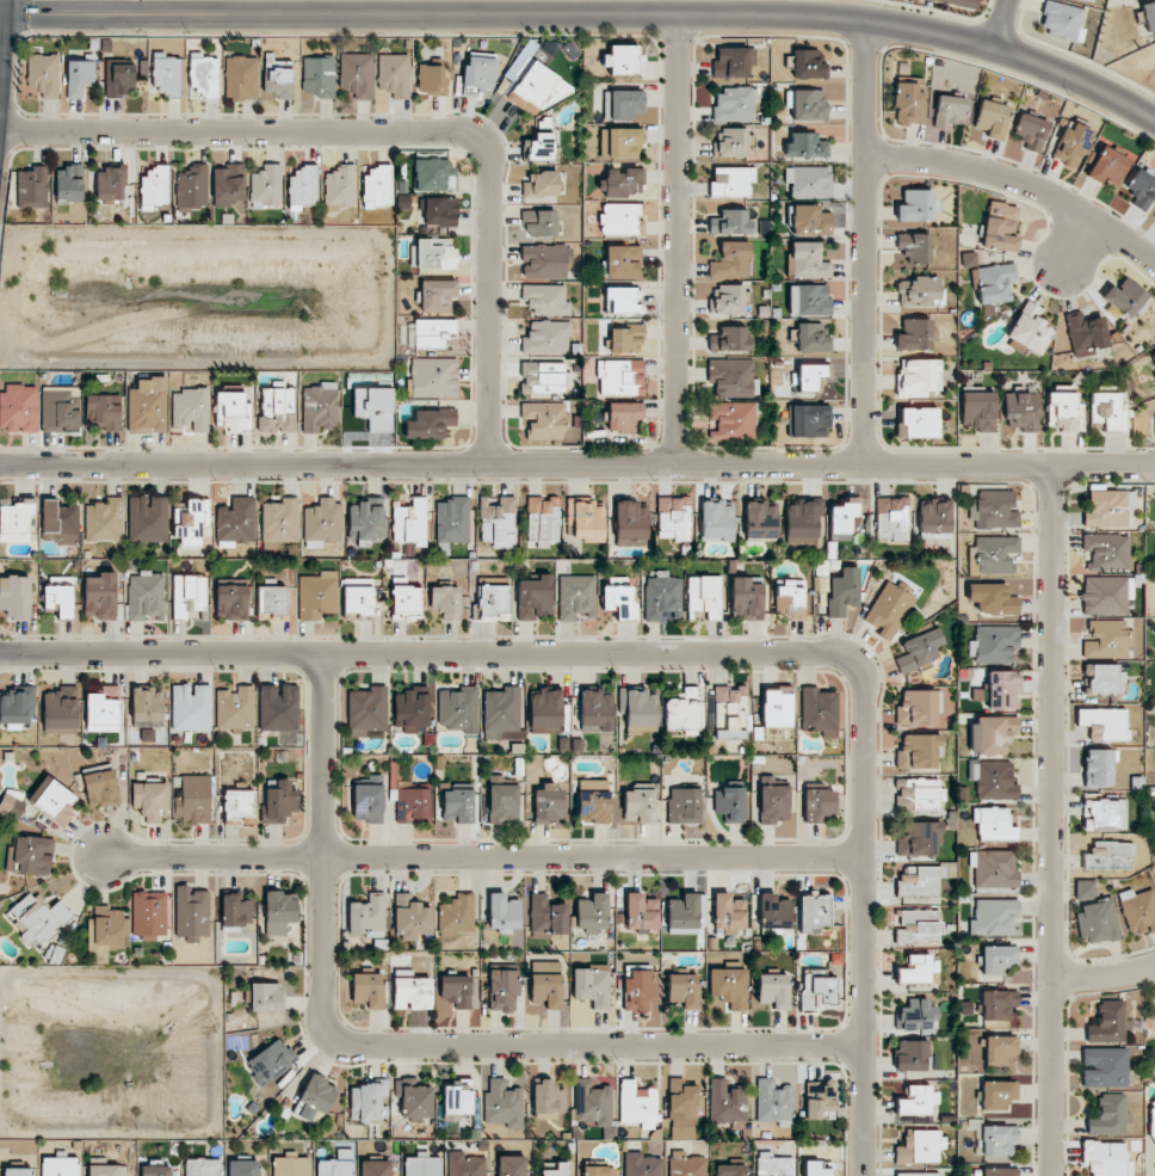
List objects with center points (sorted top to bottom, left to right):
building: (961, 2)
road: (587, 14)
building: (1149, 16)
building: (1062, 21)
road: (995, 24)
building: (622, 60)
building: (733, 62)
building: (808, 63)
building: (480, 73)
building: (44, 74)
building: (167, 74)
building: (357, 74)
building: (203, 75)
building: (319, 75)
building: (394, 75)
building: (79, 76)
building: (278, 76)
building: (241, 78)
building: (118, 79)
building: (431, 80)
building: (532, 87)
building: (908, 103)
building: (622, 104)
building: (734, 105)
building: (949, 111)
building: (992, 118)
road: (402, 131)
building: (1031, 131)
building: (619, 142)
building: (730, 143)
building: (1071, 143)
building: (805, 146)
building: (539, 147)
building: (1107, 166)
building: (433, 174)
building: (730, 180)
building: (809, 181)
building: (68, 183)
building: (623, 183)
building: (541, 184)
road: (1018, 184)
building: (109, 185)
building: (227, 185)
building: (376, 185)
building: (192, 186)
building: (266, 186)
building: (32, 187)
building: (154, 187)
building: (303, 187)
building: (340, 187)
building: (1141, 189)
building: (915, 205)
building: (440, 211)
building: (620, 220)
building: (810, 221)
building: (539, 222)
building: (730, 222)
building: (1000, 226)
road: (675, 239)
road: (1071, 240)
road: (864, 242)
building: (914, 247)
building: (433, 253)
building: (969, 259)
building: (545, 260)
building: (622, 260)
building: (730, 260)
building: (807, 260)
building: (994, 283)
building: (920, 291)
building: (437, 295)
building: (1124, 297)
building: (727, 298)
building: (545, 300)
building: (622, 300)
building: (808, 300)
building: (1030, 328)
building: (432, 332)
building: (1086, 333)
building: (914, 334)
building: (546, 338)
building: (811, 338)
building: (626, 339)
building: (729, 339)
building: (1153, 358)
building: (811, 375)
building: (433, 377)
building: (543, 377)
building: (620, 377)
building: (733, 377)
building: (918, 377)
building: (147, 406)
building: (319, 407)
building: (18, 408)
building: (60, 408)
building: (190, 410)
building: (1107, 410)
building: (104, 411)
building: (233, 411)
building: (277, 411)
building: (977, 411)
building: (1021, 411)
building: (1064, 411)
building: (623, 415)
building: (544, 419)
building: (733, 420)
building: (809, 420)
building: (919, 421)
building: (428, 424)
road: (577, 463)
building: (1106, 509)
building: (993, 510)
building: (934, 516)
building: (147, 518)
building: (674, 518)
building: (842, 518)
building: (891, 518)
building: (587, 519)
building: (760, 519)
building: (16, 521)
building: (105, 521)
building: (191, 521)
building: (280, 521)
building: (365, 521)
building: (543, 521)
building: (717, 521)
building: (802, 521)
building: (58, 522)
building: (236, 522)
building: (498, 522)
building: (323, 523)
building: (410, 523)
building: (451, 523)
building: (630, 523)
building: (1106, 552)
building: (993, 555)
building: (842, 591)
building: (317, 595)
building: (1106, 595)
building: (16, 596)
building: (100, 596)
building: (189, 596)
building: (60, 597)
building: (146, 597)
building: (533, 597)
building: (576, 597)
building: (704, 597)
building: (662, 598)
building: (746, 598)
building: (790, 598)
building: (271, 599)
building: (357, 599)
building: (992, 599)
building: (406, 602)
building: (445, 602)
building: (619, 602)
building: (493, 603)
building: (889, 609)
building: (1106, 639)
building: (994, 644)
road: (686, 647)
building: (919, 649)
building: (1104, 679)
building: (1002, 690)
building: (16, 706)
building: (147, 707)
building: (278, 707)
building: (776, 707)
building: (919, 707)
building: (191, 708)
building: (410, 708)
building: (60, 709)
building: (103, 709)
building: (235, 709)
building: (458, 709)
building: (366, 710)
building: (595, 710)
building: (640, 710)
building: (545, 712)
building: (682, 712)
building: (819, 712)
building: (730, 713)
building: (502, 714)
building: (1104, 724)
building: (992, 734)
building: (147, 735)
building: (919, 751)
building: (1099, 768)
building: (994, 781)
building: (99, 787)
building: (920, 794)
building: (192, 798)
building: (593, 800)
building: (152, 801)
building: (279, 801)
building: (367, 802)
building: (502, 804)
building: (546, 804)
building: (729, 804)
building: (817, 804)
building: (457, 805)
building: (638, 805)
building: (11, 806)
building: (237, 806)
building: (684, 806)
building: (1104, 813)
road: (1050, 821)
building: (993, 825)
building: (919, 838)
building: (32, 855)
building: (1110, 855)
road: (482, 856)
building: (993, 869)
building: (919, 881)
building: (1085, 889)
building: (235, 910)
building: (1138, 910)
building: (278, 911)
building: (641, 911)
building: (687, 911)
building: (502, 912)
building: (592, 912)
building: (773, 912)
building: (813, 912)
building: (148, 913)
building: (191, 913)
building: (729, 913)
building: (367, 916)
building: (456, 916)
building: (410, 917)
building: (546, 917)
building: (993, 917)
building: (36, 918)
building: (1097, 922)
building: (918, 926)
building: (106, 930)
building: (997, 959)
building: (916, 969)
road: (1102, 974)
building: (545, 984)
building: (592, 985)
building: (729, 986)
building: (637, 989)
building: (367, 990)
building: (456, 990)
building: (502, 990)
building: (684, 990)
building: (773, 990)
building: (817, 990)
building: (412, 993)
building: (267, 997)
building: (997, 1005)
building: (916, 1015)
building: (1108, 1023)
road: (401, 1039)
building: (999, 1049)
building: (912, 1055)
building: (271, 1061)
building: (1104, 1067)
building: (997, 1094)
building: (315, 1096)
building: (367, 1100)
building: (415, 1100)
building: (457, 1100)
building: (548, 1100)
building: (820, 1100)
building: (916, 1101)
building: (592, 1102)
building: (727, 1102)
building: (773, 1102)
building: (502, 1104)
building: (637, 1104)
building: (682, 1110)
building: (1150, 1113)
building: (1108, 1115)
building: (997, 1139)
building: (919, 1147)
building: (1104, 1158)
building: (336, 1164)
building: (465, 1164)
building: (642, 1164)
building: (686, 1164)
building: (773, 1164)
building: (291, 1165)
building: (421, 1165)
building: (511, 1165)
building: (60, 1166)
building: (203, 1166)
building: (243, 1168)
building: (375, 1168)
building: (554, 1168)
building: (817, 1168)
building: (106, 1170)
building: (156, 1170)
building: (599, 1170)
building: (730, 1170)
building: (18, 1171)
building: (999, 1171)
building: (918, 1174)

